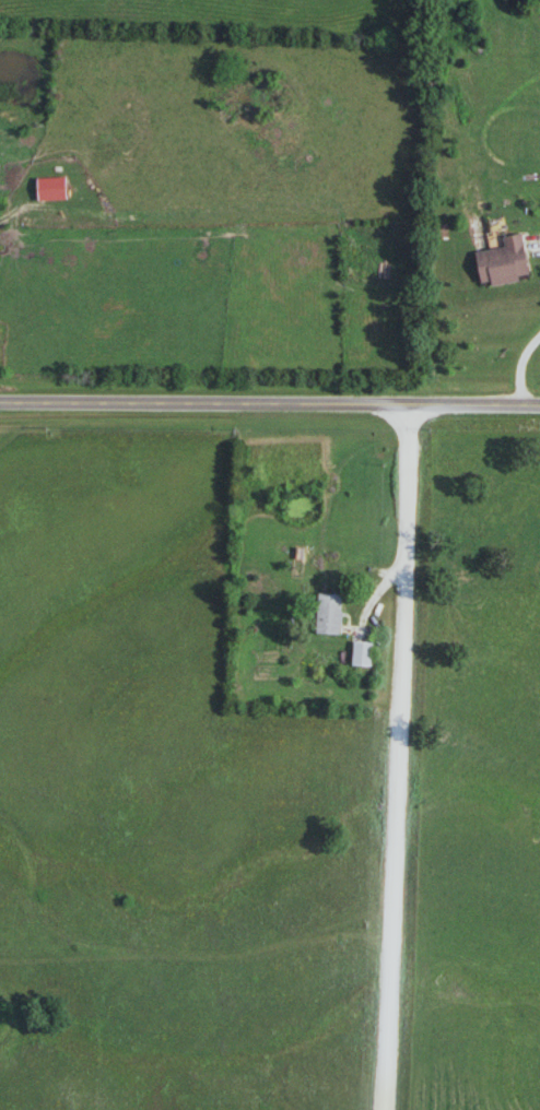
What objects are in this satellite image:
building: (505, 262)
road: (523, 365)
road: (270, 404)
building: (330, 614)
building: (362, 654)
road: (395, 758)

